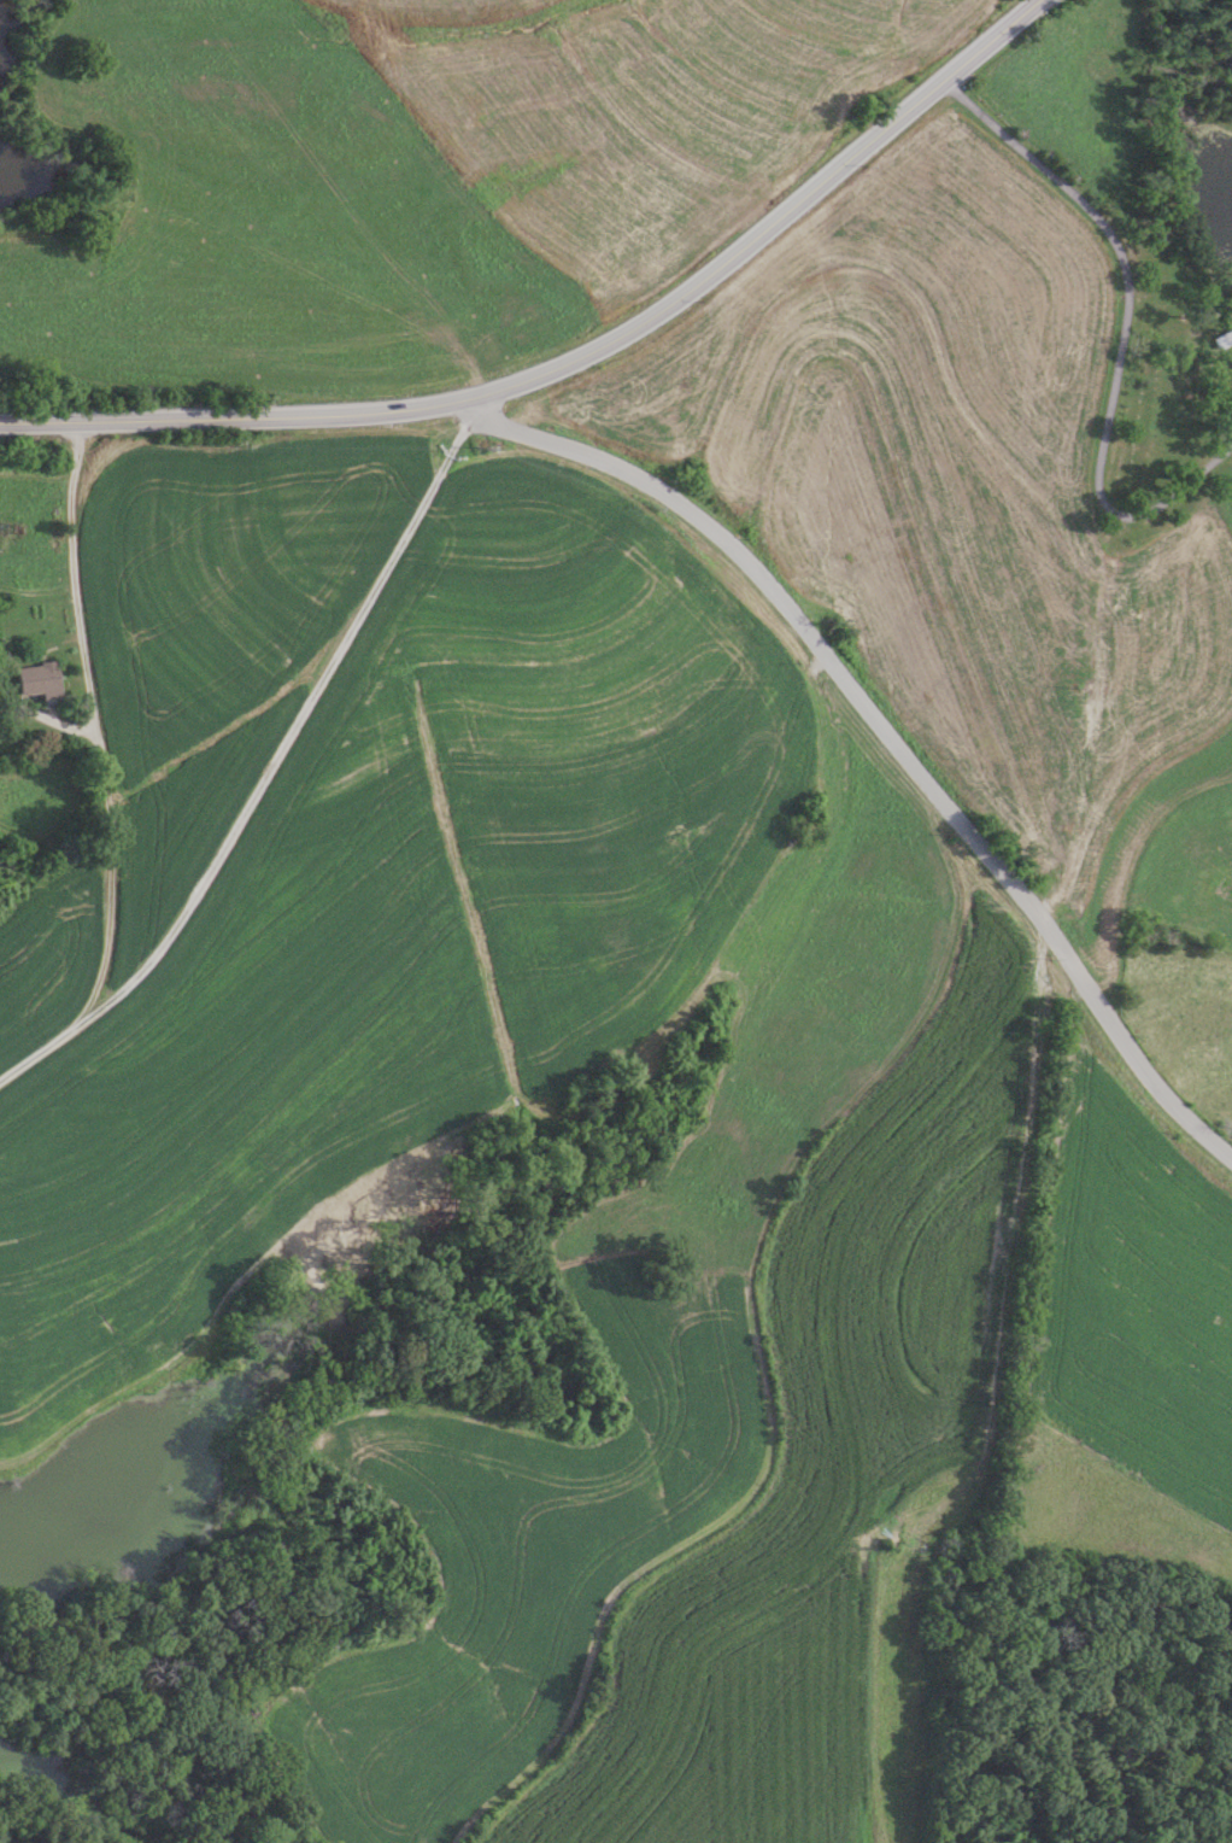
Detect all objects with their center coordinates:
road: (682, 293)
road: (1126, 332)
building: (1226, 340)
road: (123, 419)
building: (41, 679)
road: (289, 729)
road: (886, 732)
road: (99, 773)

